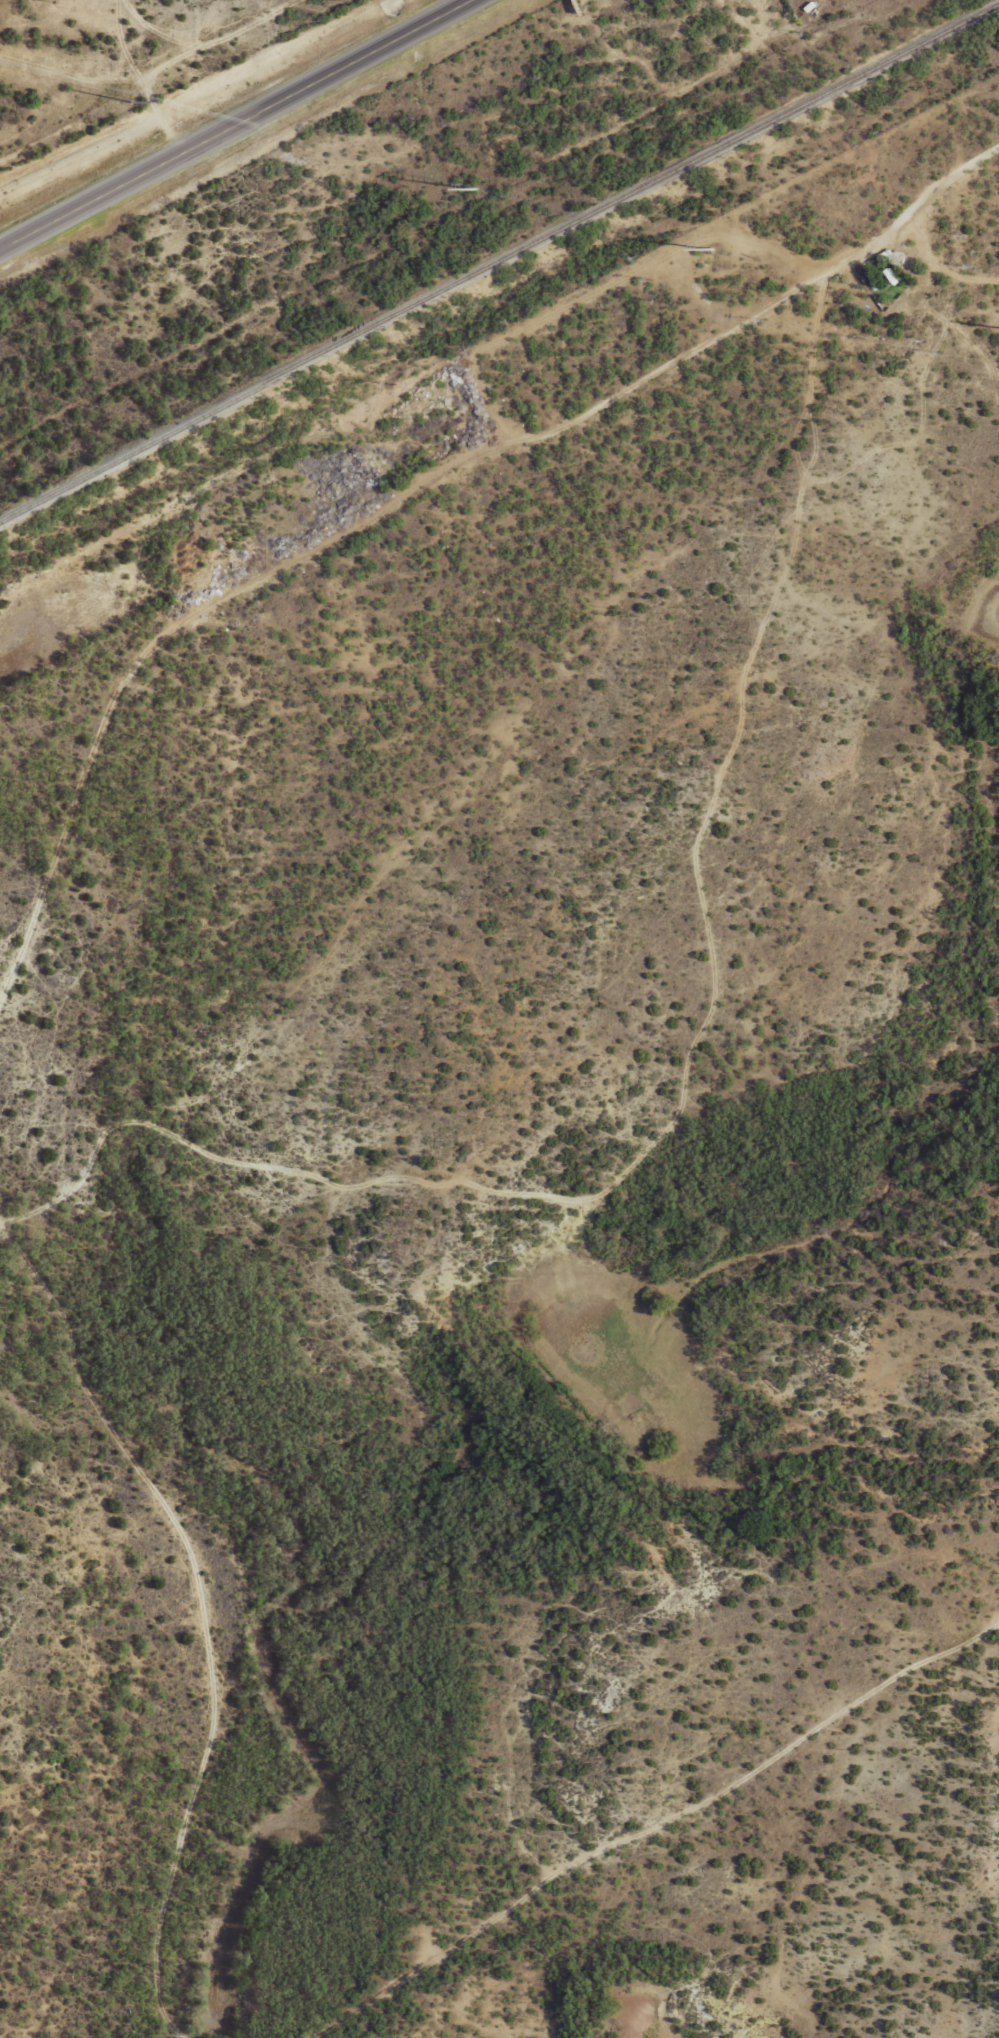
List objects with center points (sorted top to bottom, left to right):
road: (172, 69)
power tower: (127, 100)
road: (234, 127)
power tower: (471, 188)
road: (909, 205)
power tower: (708, 248)
railway: (499, 259)
road: (314, 540)
road: (683, 1063)

